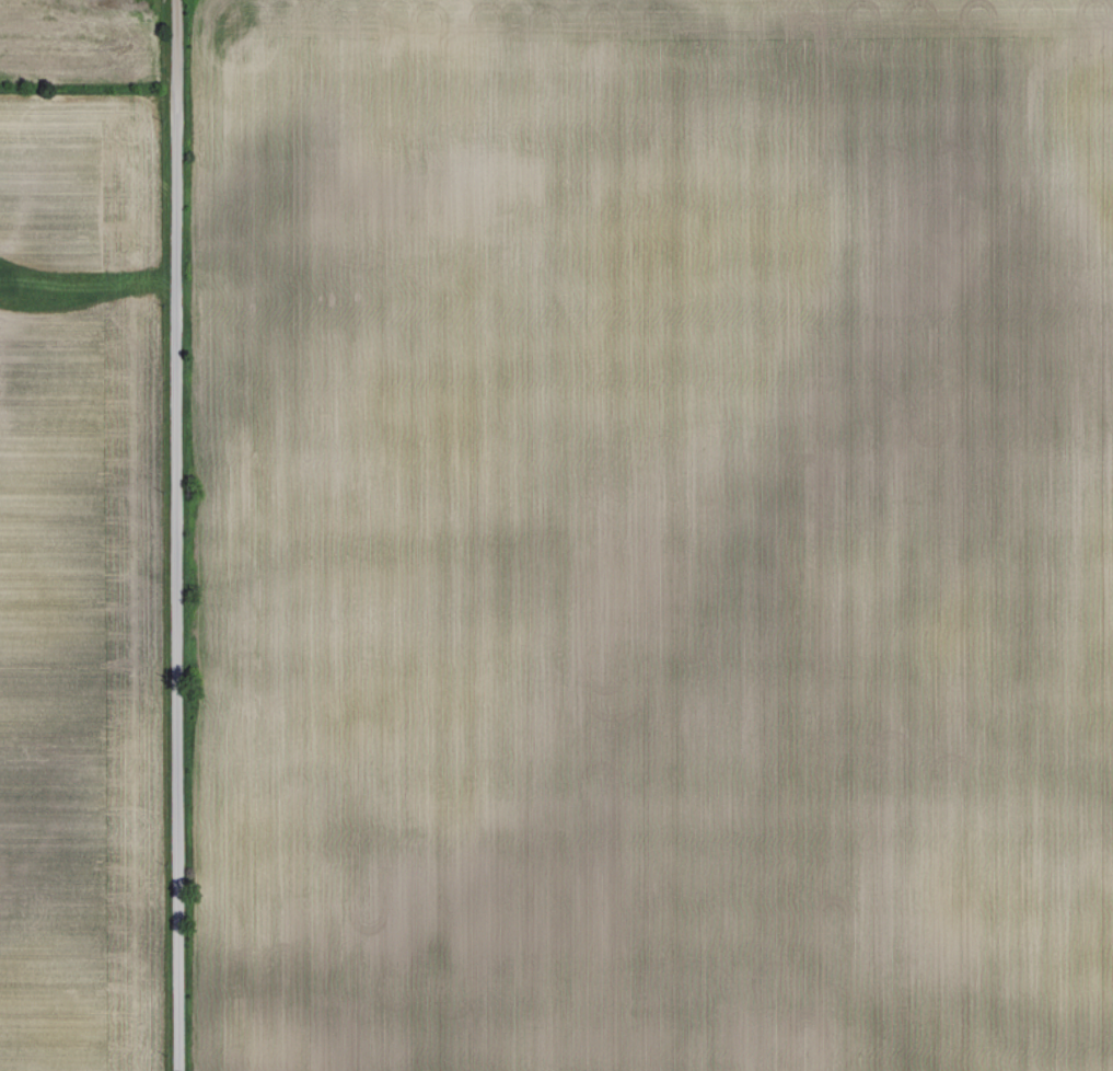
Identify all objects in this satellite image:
road: (167, 535)

